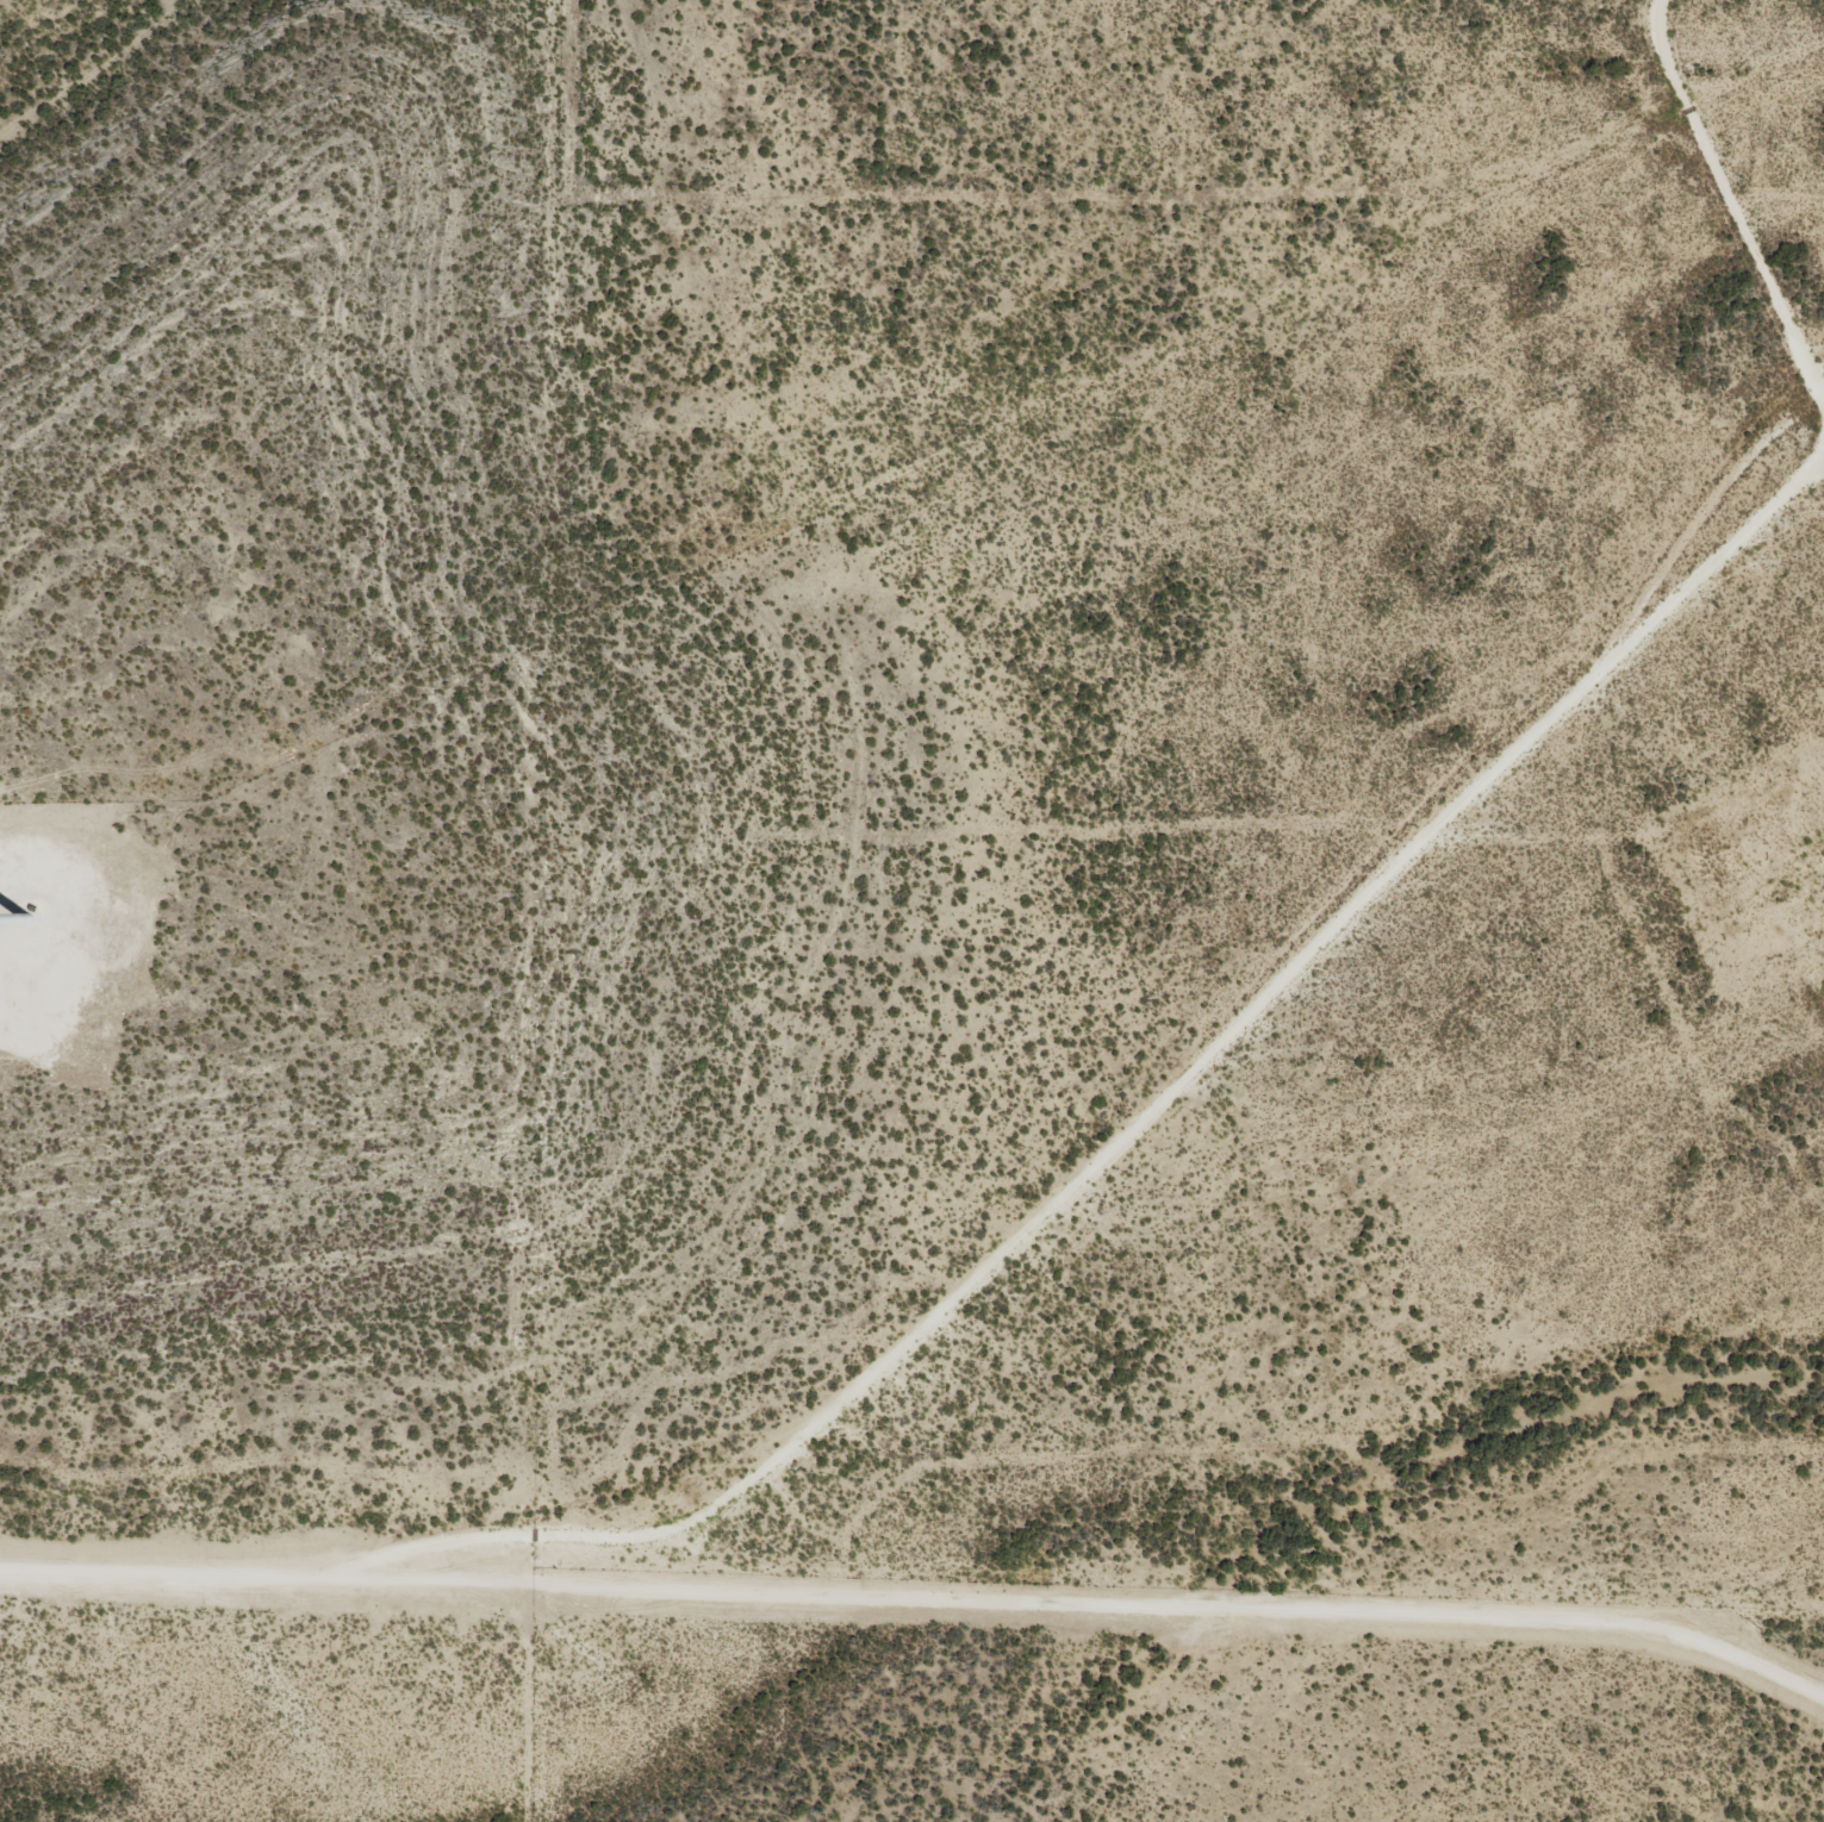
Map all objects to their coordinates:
wind turbine: (31, 905)
road: (1040, 1198)

